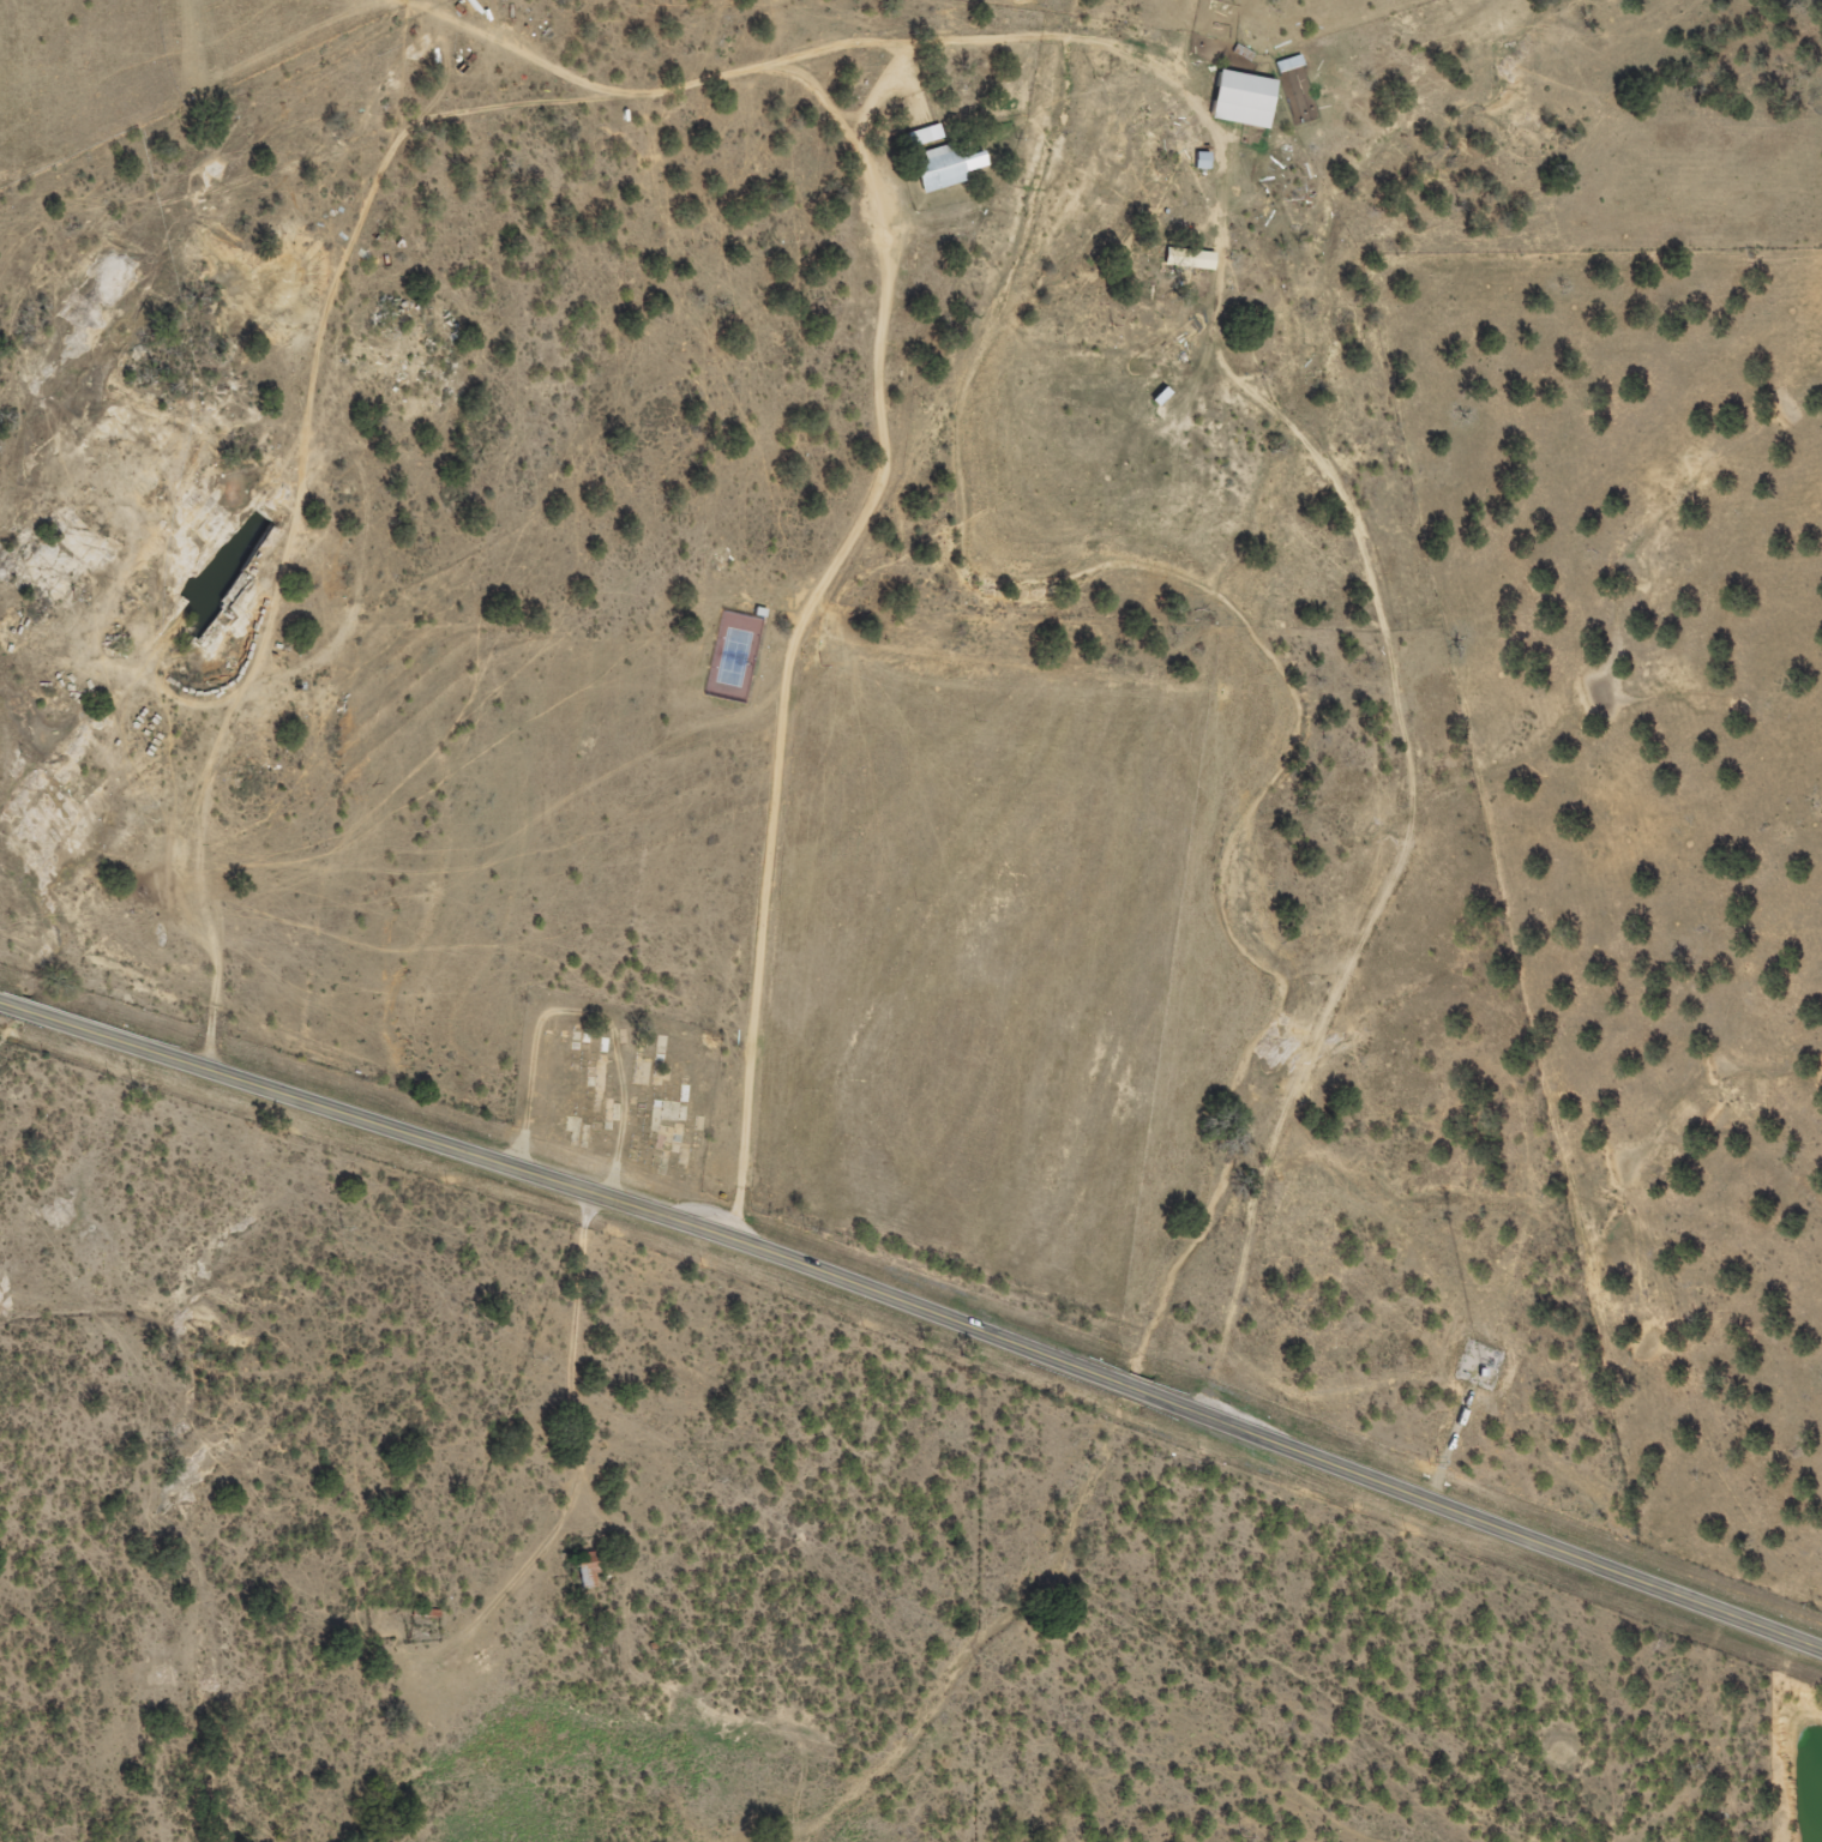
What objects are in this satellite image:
building: (1286, 67)
road: (979, 92)
building: (1237, 101)
building: (943, 168)
road: (179, 203)
building: (1193, 261)
building: (222, 564)
road: (759, 973)
park: (618, 1084)
road: (916, 1306)
road: (581, 1356)
building: (590, 1576)

